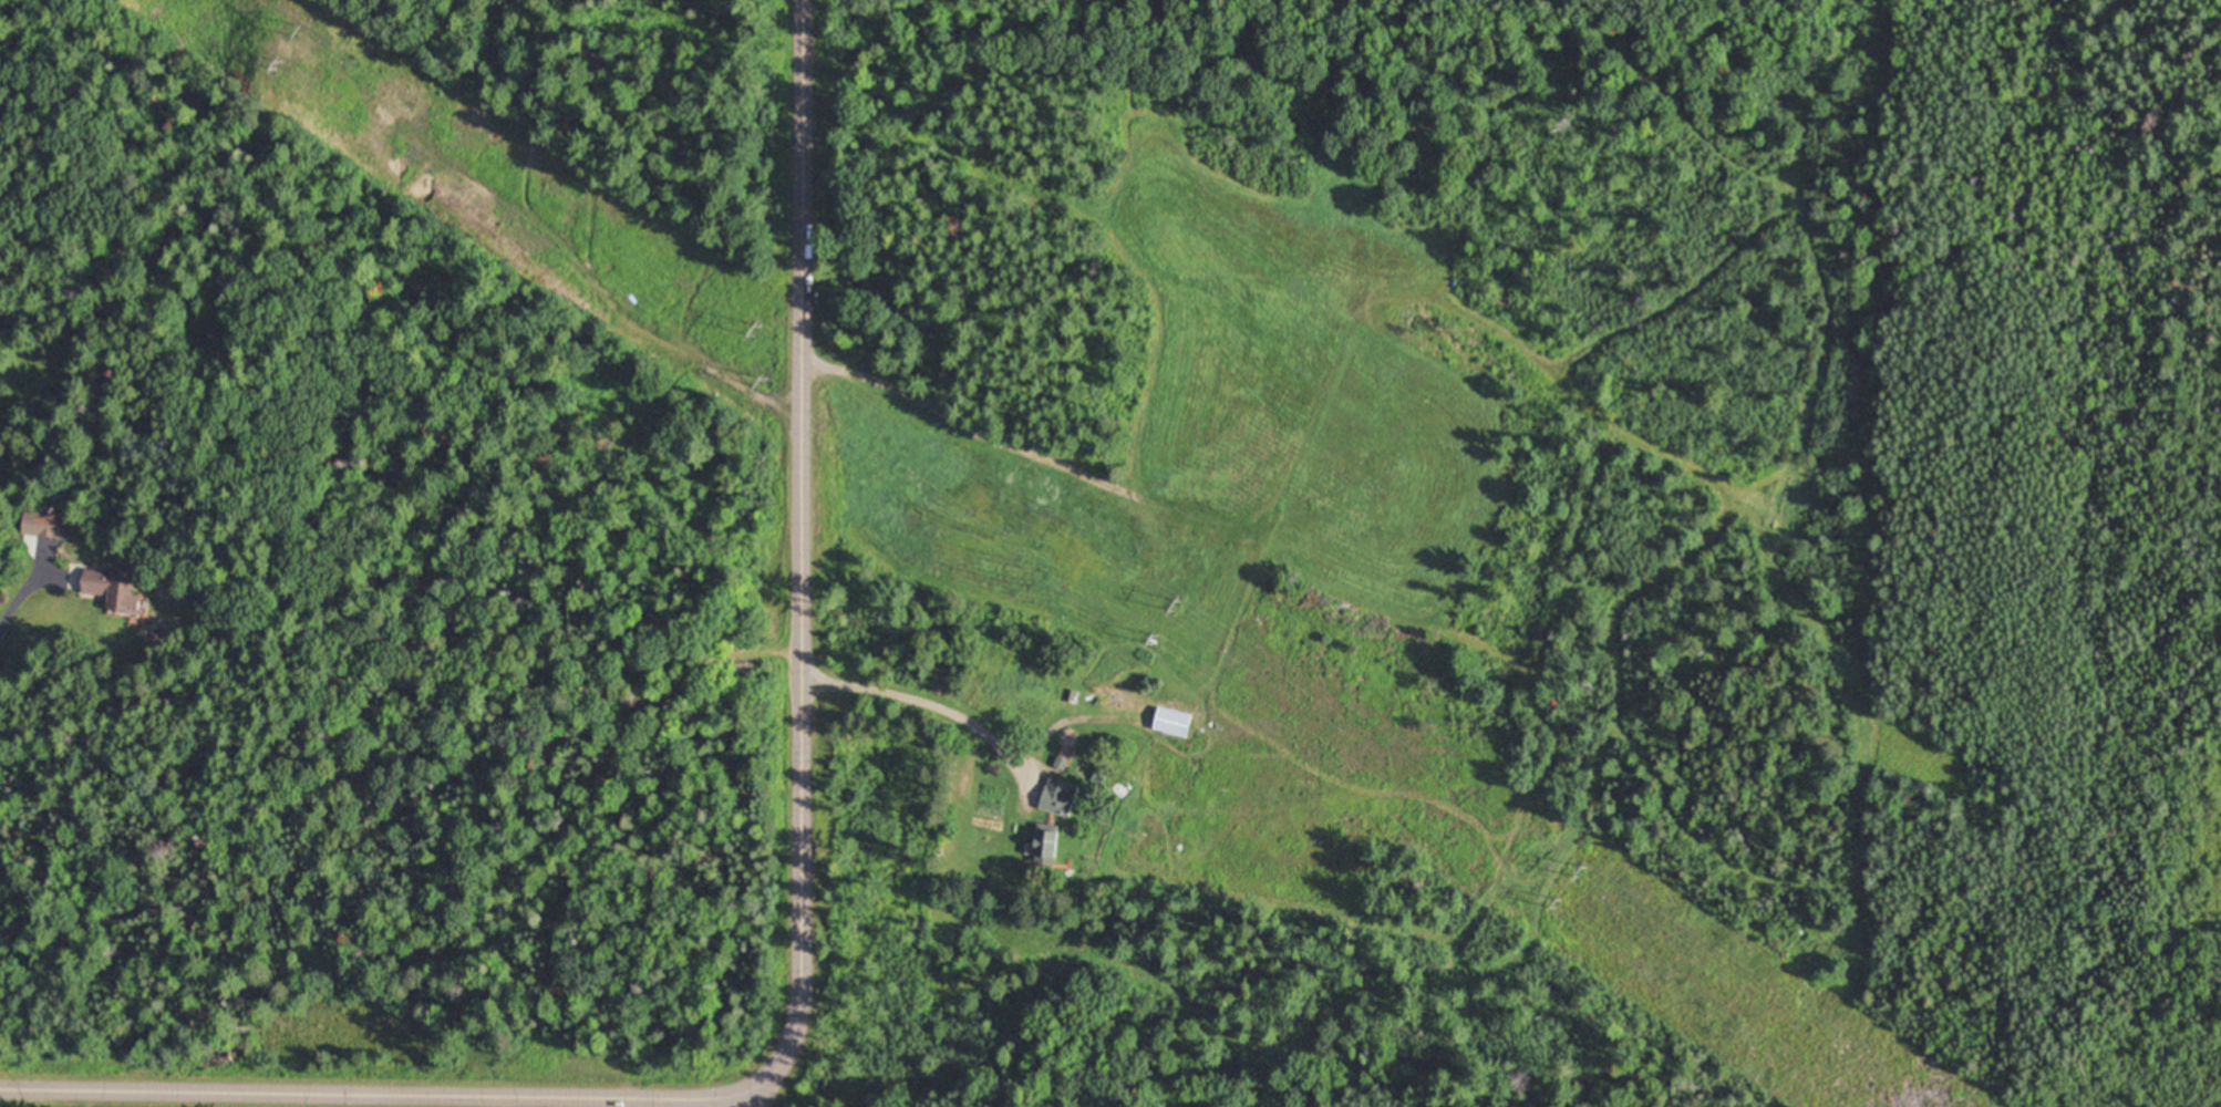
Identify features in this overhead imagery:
power tower: (301, 30)
power tower: (280, 63)
power tower: (758, 330)
power tower: (765, 384)
building: (50, 525)
road: (807, 548)
building: (107, 588)
power tower: (1177, 603)
power tower: (1155, 638)
building: (1170, 722)
road: (926, 728)
building: (1055, 797)
building: (1043, 845)
power tower: (1582, 869)
power tower: (1557, 902)
road: (380, 1094)
road: (758, 1094)

